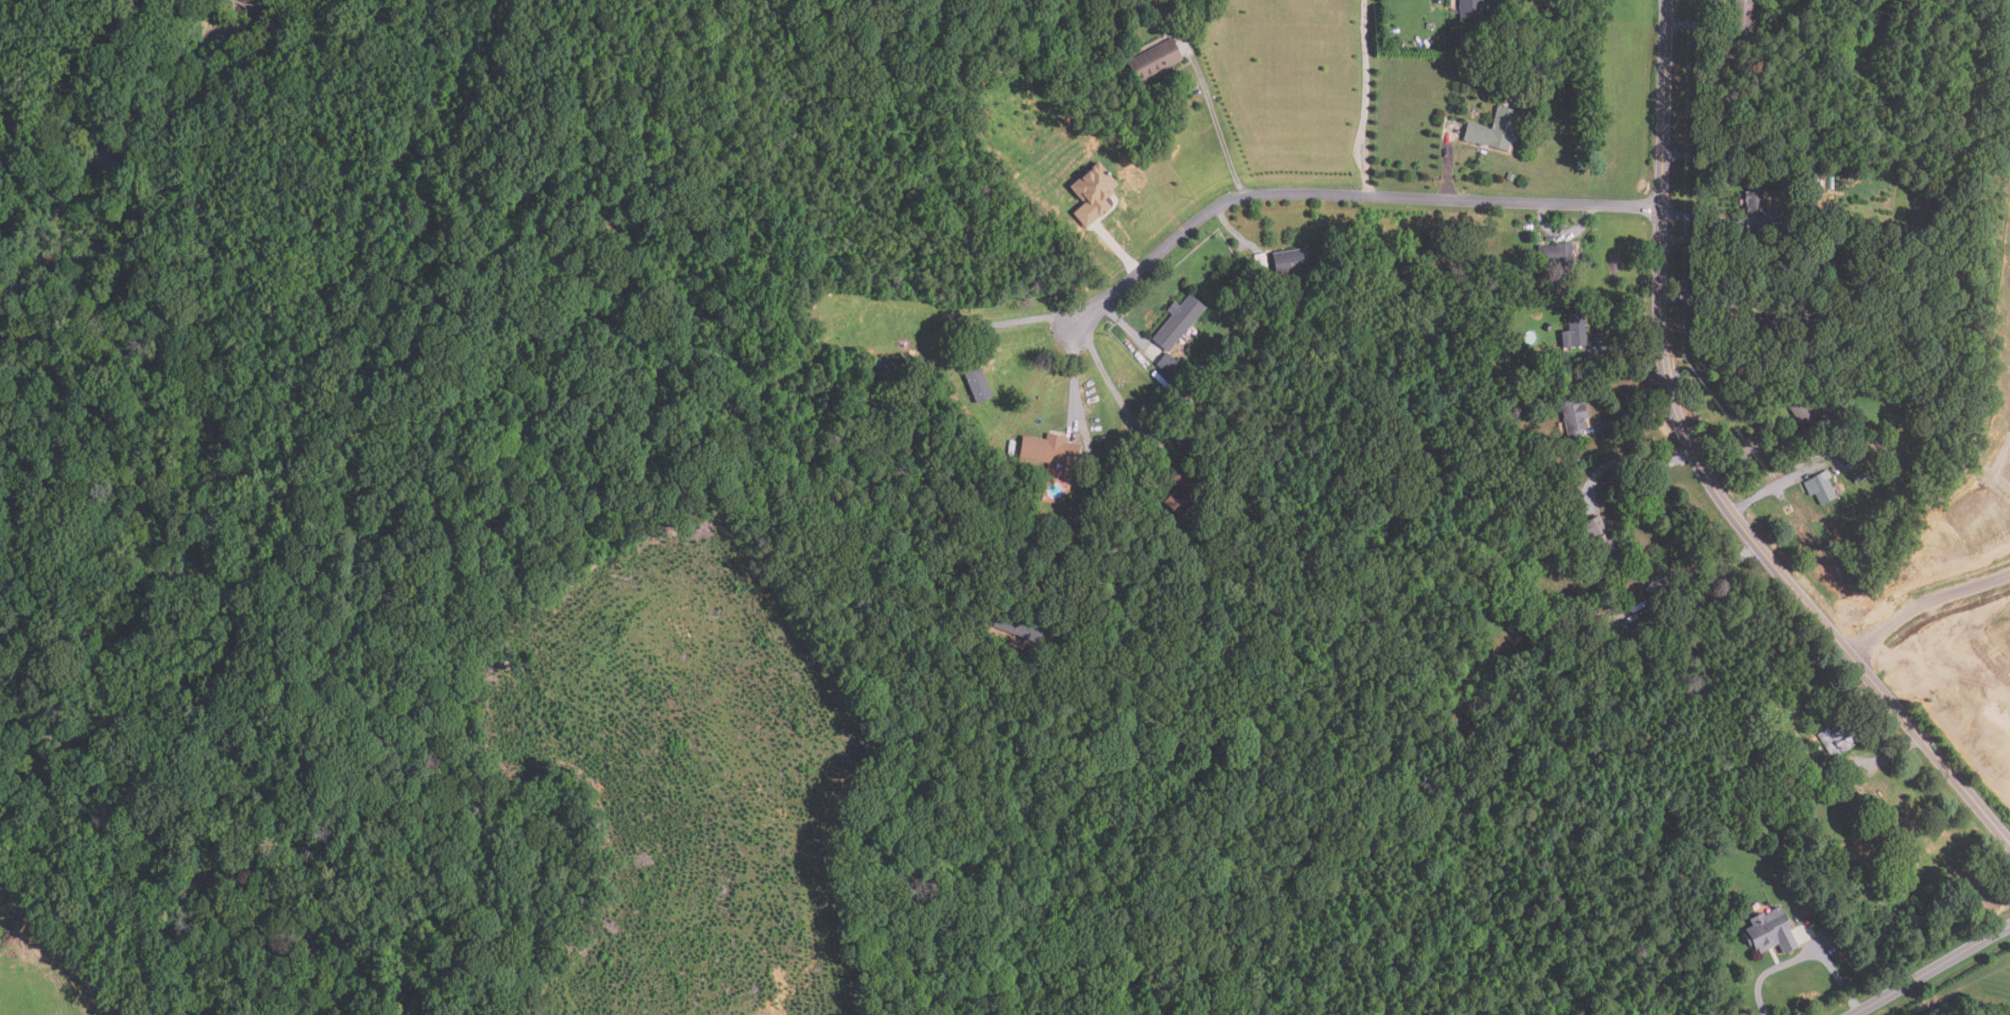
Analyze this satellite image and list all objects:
building: (1469, 9)
building: (1743, 15)
building: (1153, 61)
building: (1717, 68)
road: (1305, 83)
road: (1368, 84)
building: (1730, 89)
road: (1217, 124)
building: (1494, 129)
building: (1739, 144)
road: (1447, 172)
building: (1510, 177)
road: (1371, 184)
building: (1091, 193)
road: (1348, 197)
building: (1755, 200)
road: (1706, 222)
building: (1809, 222)
road: (1564, 230)
road: (1722, 240)
river: (42, 242)
building: (1427, 245)
road: (1119, 252)
river: (15, 253)
building: (1555, 257)
building: (1259, 260)
building: (1290, 260)
building: (1813, 261)
river: (38, 267)
river: (49, 280)
building: (1423, 282)
road: (1708, 298)
building: (1828, 312)
road: (1026, 319)
building: (1177, 321)
river: (22, 323)
building: (1765, 323)
road: (1127, 328)
building: (1573, 330)
building: (960, 334)
road: (1625, 350)
building: (1791, 359)
building: (1810, 360)
building: (1165, 363)
building: (887, 365)
road: (1078, 374)
building: (975, 380)
road: (1110, 385)
building: (1191, 405)
road: (1634, 414)
building: (1804, 415)
building: (1574, 418)
building: (1842, 428)
building: (1864, 428)
building: (1165, 433)
building: (1183, 439)
building: (1048, 449)
road: (1746, 454)
road: (1626, 459)
building: (1851, 461)
road: (1703, 473)
building: (1820, 487)
road: (1773, 488)
building: (1182, 492)
building: (1981, 531)
building: (1600, 541)
building: (1549, 542)
building: (1543, 546)
road: (1713, 576)
building: (1655, 587)
road: (1924, 607)
building: (1646, 620)
building: (1017, 626)
building: (1029, 655)
building: (1837, 740)
building: (1755, 750)
road: (1884, 758)
building: (1735, 803)
building: (1860, 845)
building: (1771, 932)
road: (1807, 957)
road: (1931, 969)
river: (1668, 1003)

